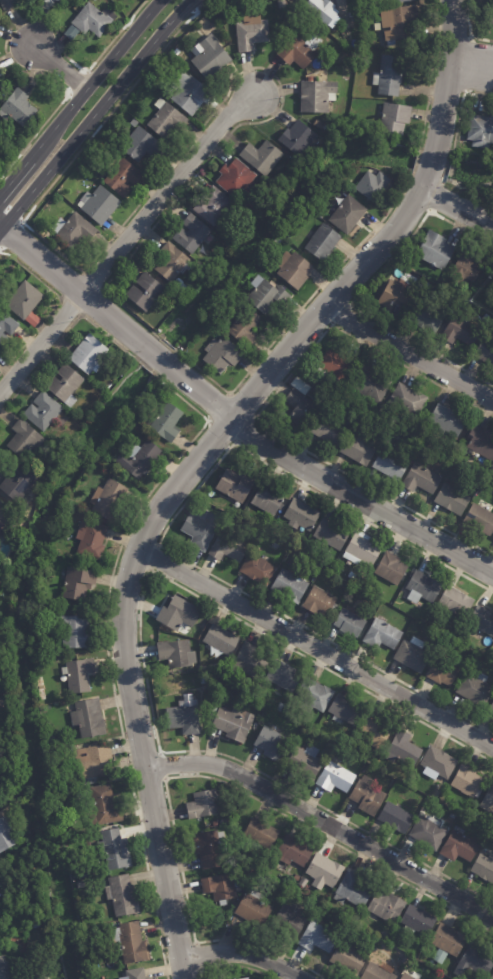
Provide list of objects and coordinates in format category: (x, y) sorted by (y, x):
building: (94, 0)
building: (399, 0)
building: (54, 2)
building: (369, 2)
building: (281, 3)
building: (6, 4)
road: (189, 6)
building: (322, 8)
building: (490, 13)
building: (91, 21)
building: (399, 22)
road: (469, 29)
building: (251, 30)
building: (71, 33)
road: (7, 34)
building: (299, 49)
building: (209, 56)
road: (468, 64)
road: (471, 65)
road: (58, 67)
building: (390, 74)
road: (430, 75)
road: (447, 76)
road: (76, 81)
building: (166, 90)
building: (191, 93)
building: (317, 95)
road: (80, 96)
building: (17, 109)
road: (459, 110)
road: (95, 113)
road: (275, 114)
building: (394, 118)
building: (165, 119)
building: (133, 122)
building: (480, 130)
building: (297, 137)
building: (141, 144)
building: (262, 156)
road: (415, 160)
road: (430, 164)
road: (445, 170)
building: (121, 176)
building: (237, 178)
building: (372, 183)
road: (424, 183)
road: (164, 191)
road: (434, 197)
building: (98, 204)
building: (214, 206)
road: (457, 208)
building: (346, 213)
road: (20, 223)
building: (73, 230)
building: (193, 233)
building: (290, 234)
building: (278, 240)
building: (322, 241)
building: (435, 250)
building: (171, 261)
building: (466, 266)
building: (294, 269)
road: (82, 270)
building: (154, 290)
building: (182, 291)
road: (358, 292)
building: (266, 294)
building: (394, 294)
building: (23, 299)
road: (348, 302)
road: (53, 306)
building: (426, 317)
building: (32, 319)
building: (6, 326)
building: (245, 326)
building: (460, 331)
road: (40, 343)
building: (485, 351)
road: (408, 353)
building: (88, 354)
building: (221, 354)
building: (335, 364)
building: (65, 384)
building: (370, 384)
building: (300, 385)
building: (407, 400)
road: (263, 405)
building: (298, 406)
building: (45, 412)
road: (232, 421)
building: (347, 421)
building: (447, 421)
building: (166, 422)
building: (328, 430)
building: (25, 439)
building: (481, 441)
road: (233, 442)
building: (451, 444)
building: (357, 450)
building: (139, 459)
building: (390, 464)
building: (421, 479)
building: (17, 482)
building: (236, 485)
building: (267, 499)
building: (452, 499)
building: (108, 501)
building: (84, 509)
building: (301, 515)
building: (5, 517)
building: (480, 519)
road: (167, 525)
building: (201, 527)
building: (331, 534)
road: (141, 538)
building: (90, 540)
road: (155, 544)
road: (120, 546)
building: (228, 547)
building: (361, 549)
building: (266, 557)
building: (10, 566)
building: (315, 568)
building: (391, 568)
building: (257, 569)
building: (352, 576)
building: (360, 579)
building: (77, 583)
building: (290, 586)
building: (422, 588)
building: (320, 601)
building: (455, 602)
building: (178, 616)
building: (482, 620)
building: (403, 622)
building: (349, 623)
building: (74, 632)
building: (382, 635)
building: (219, 642)
road: (315, 647)
road: (140, 650)
building: (177, 654)
building: (413, 655)
building: (250, 662)
building: (443, 671)
building: (79, 676)
building: (284, 676)
building: (0, 689)
building: (475, 689)
building: (313, 696)
building: (281, 708)
building: (346, 709)
building: (491, 710)
building: (184, 716)
building: (89, 718)
building: (232, 722)
building: (375, 729)
building: (50, 740)
building: (272, 745)
building: (403, 749)
building: (305, 762)
building: (92, 764)
building: (437, 764)
building: (55, 765)
road: (161, 765)
road: (196, 775)
building: (335, 777)
building: (62, 782)
building: (468, 782)
building: (367, 795)
building: (488, 803)
building: (204, 805)
building: (103, 806)
building: (453, 815)
building: (396, 818)
building: (225, 821)
road: (323, 822)
building: (216, 824)
building: (428, 833)
building: (261, 834)
building: (6, 836)
building: (459, 848)
building: (210, 849)
building: (113, 851)
building: (294, 852)
building: (260, 865)
building: (483, 868)
building: (324, 872)
building: (81, 874)
building: (296, 879)
building: (303, 883)
building: (3, 884)
building: (80, 885)
building: (221, 887)
building: (352, 890)
building: (122, 896)
building: (253, 908)
building: (386, 908)
building: (291, 920)
building: (417, 922)
building: (35, 923)
building: (318, 937)
building: (374, 940)
building: (448, 940)
building: (129, 943)
road: (242, 954)
building: (440, 957)
building: (349, 958)
building: (405, 960)
building: (474, 962)
building: (411, 964)
road: (232, 965)
building: (3, 969)
road: (199, 971)
building: (378, 972)
building: (135, 974)
building: (40, 975)
building: (404, 977)
building: (492, 977)
building: (245, 978)

